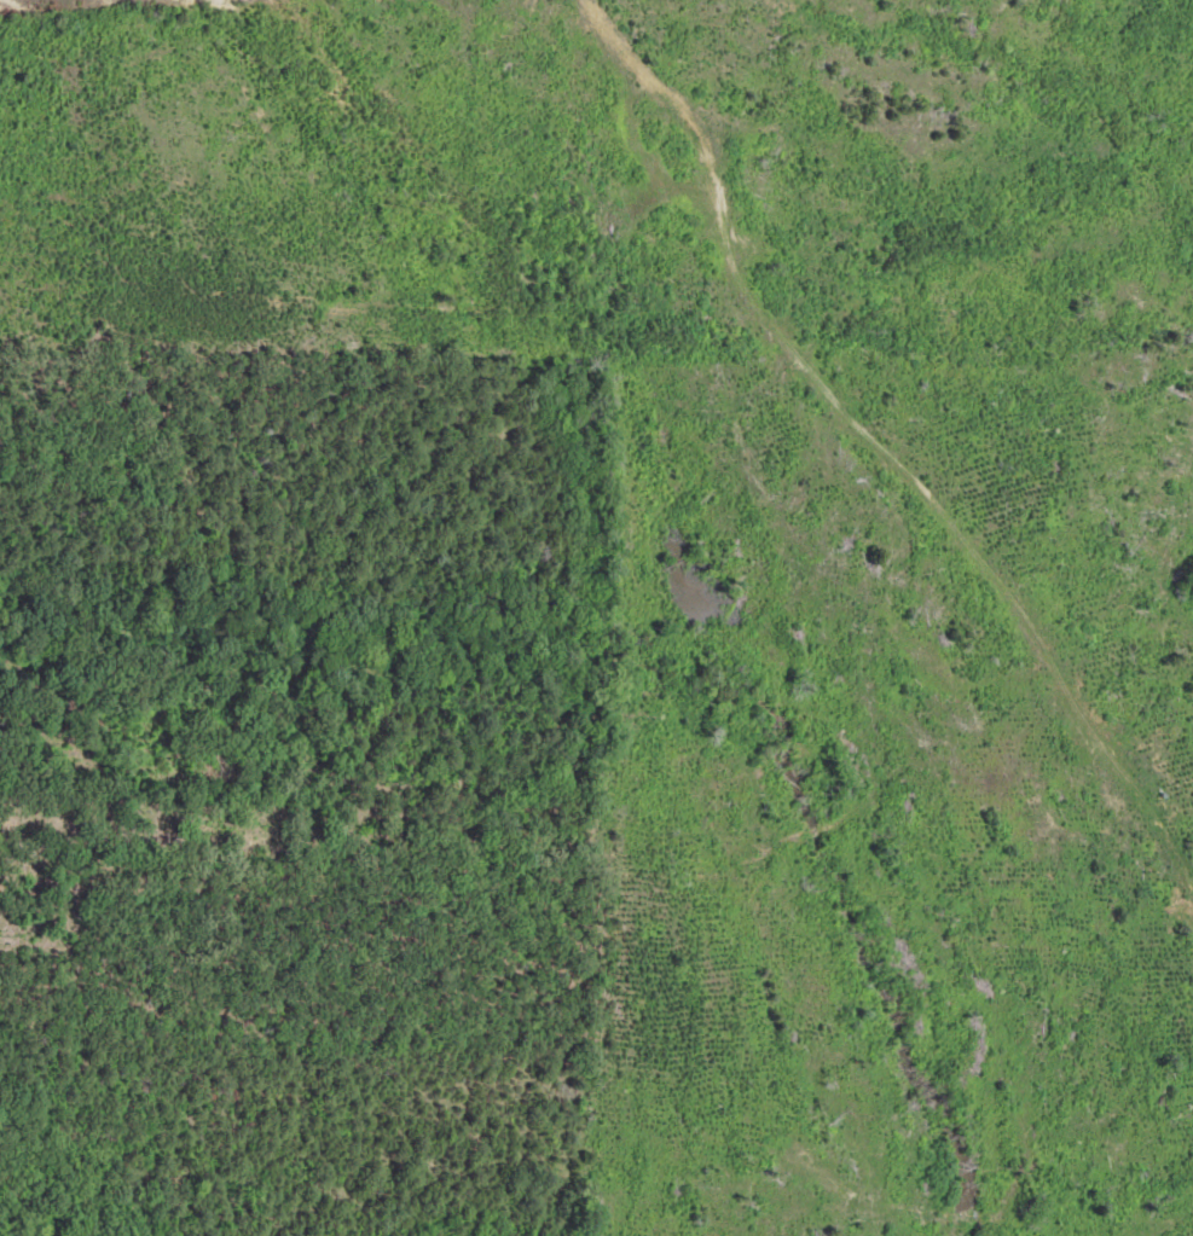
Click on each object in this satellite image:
road: (1152, 1219)

